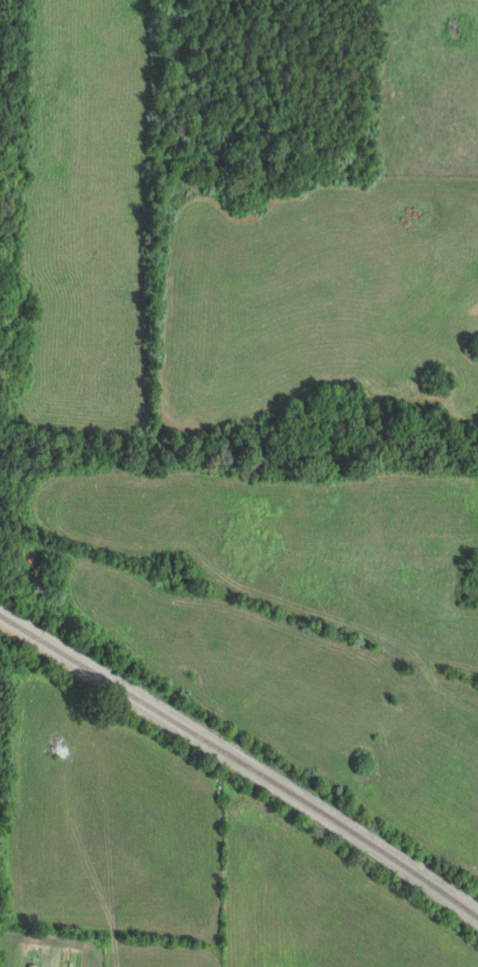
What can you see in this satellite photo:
railway: (240, 763)

